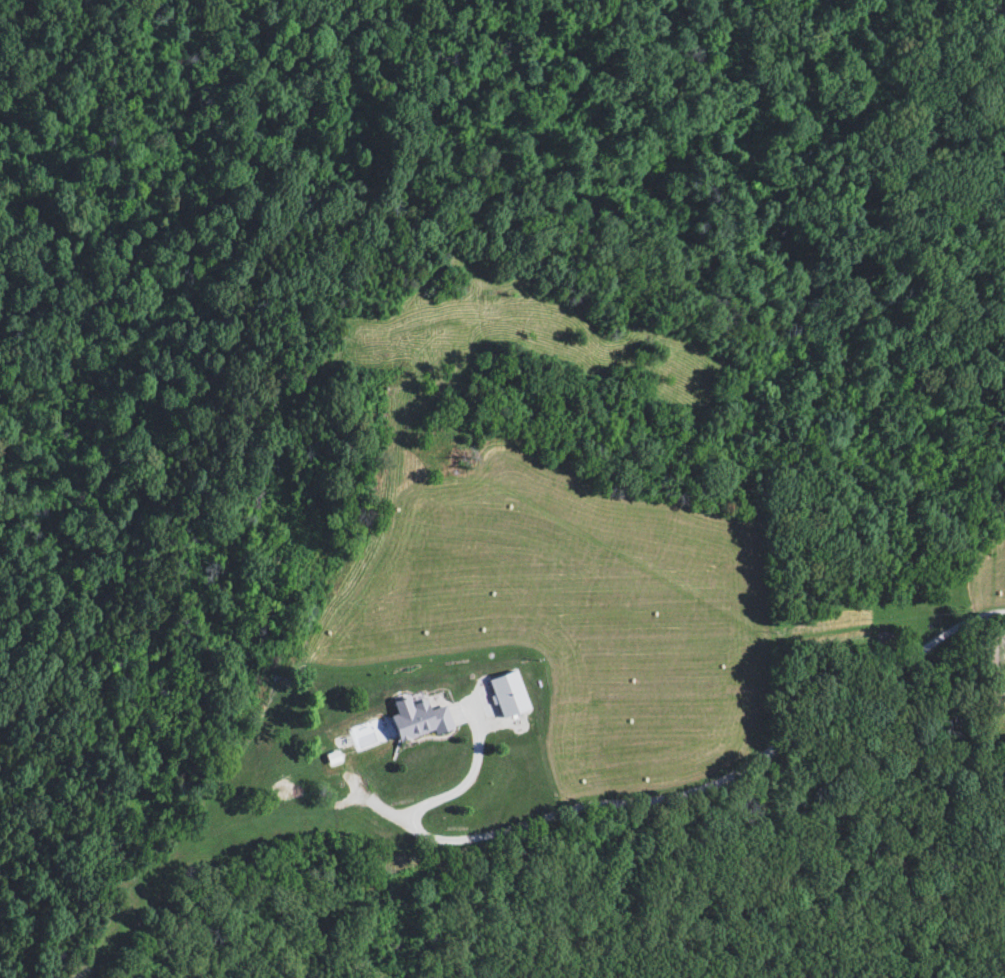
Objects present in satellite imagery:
building: (893, 644)
building: (424, 721)
road: (690, 799)

